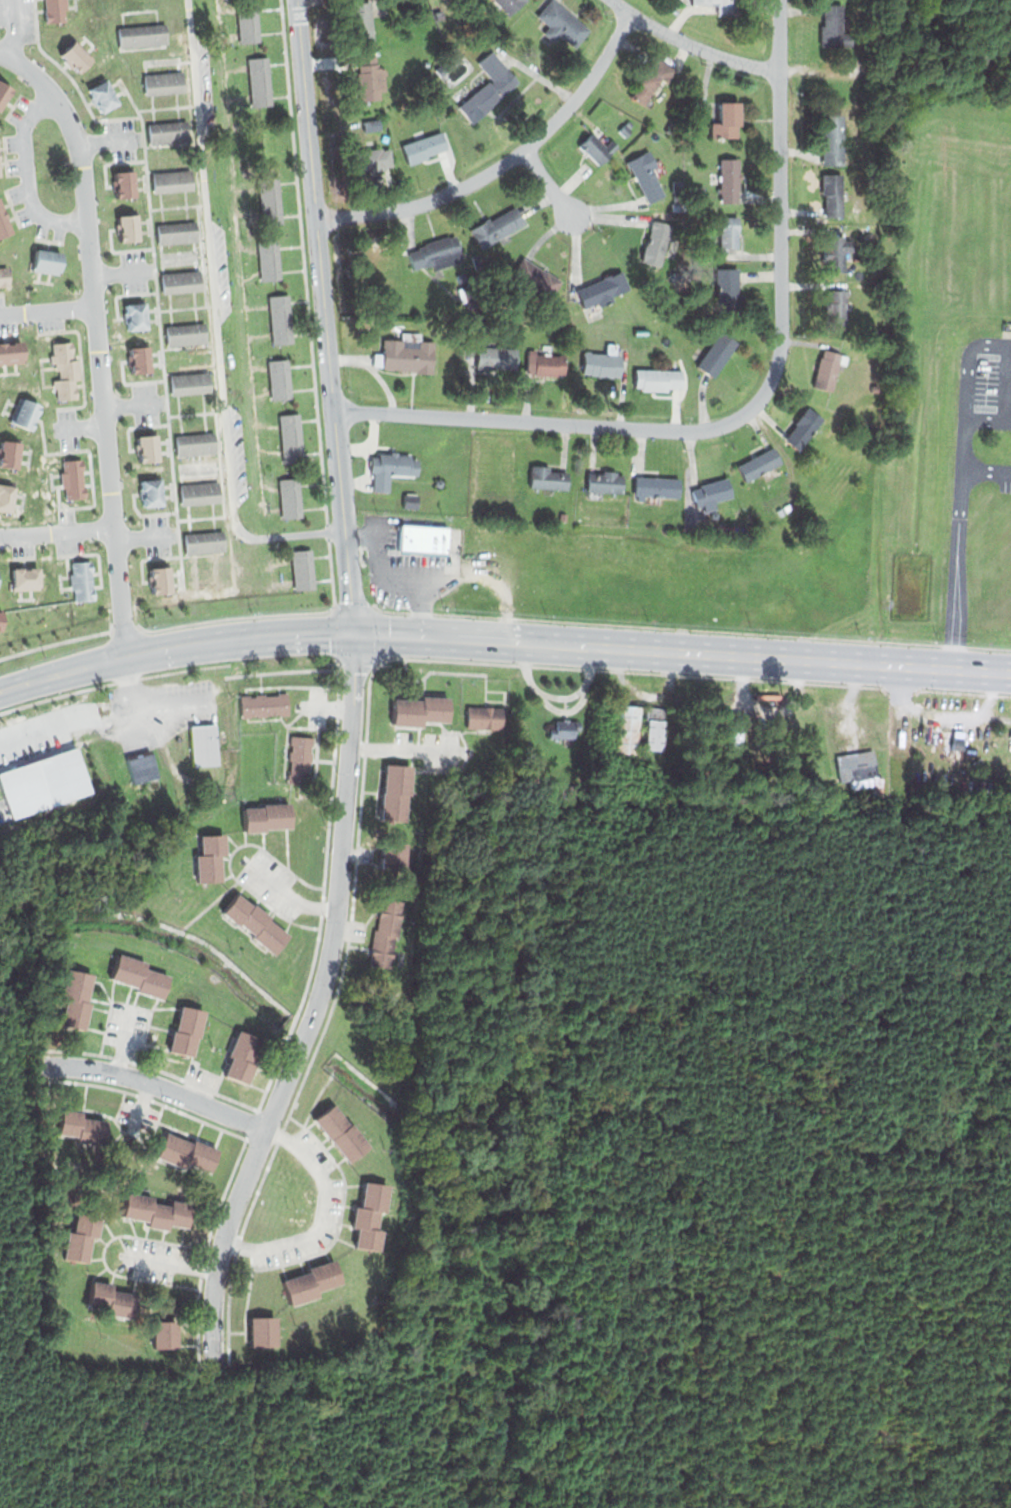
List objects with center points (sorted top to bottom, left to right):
building: (509, 5)
building: (721, 6)
building: (54, 11)
building: (247, 21)
building: (360, 22)
building: (561, 25)
building: (835, 25)
road: (15, 31)
building: (141, 34)
road: (691, 45)
building: (371, 77)
building: (650, 80)
building: (260, 82)
building: (164, 83)
building: (488, 86)
building: (4, 92)
building: (105, 95)
building: (728, 118)
building: (371, 126)
building: (627, 127)
building: (168, 132)
building: (832, 140)
building: (258, 142)
building: (424, 147)
building: (600, 148)
building: (370, 160)
road: (505, 164)
road: (28, 174)
building: (647, 176)
building: (173, 181)
building: (730, 181)
road: (549, 182)
building: (124, 184)
building: (696, 190)
building: (831, 195)
building: (270, 200)
building: (4, 223)
building: (497, 226)
building: (129, 229)
building: (178, 232)
building: (729, 234)
building: (656, 245)
building: (833, 253)
building: (435, 254)
building: (269, 260)
building: (47, 262)
building: (5, 275)
building: (461, 276)
building: (537, 278)
building: (181, 283)
building: (601, 288)
building: (730, 290)
building: (468, 294)
road: (47, 310)
building: (836, 310)
road: (325, 316)
building: (136, 317)
building: (279, 318)
road: (217, 319)
building: (186, 334)
road: (97, 337)
road: (1009, 343)
building: (11, 352)
building: (408, 353)
building: (717, 353)
building: (496, 357)
building: (140, 360)
building: (603, 361)
building: (545, 364)
building: (64, 369)
building: (827, 370)
building: (660, 378)
building: (280, 379)
building: (189, 383)
road: (748, 409)
building: (25, 414)
road: (1007, 424)
building: (804, 429)
road: (963, 430)
building: (291, 438)
building: (196, 445)
building: (149, 449)
building: (10, 452)
building: (758, 465)
building: (389, 469)
road: (986, 469)
building: (72, 478)
building: (548, 478)
building: (606, 480)
building: (440, 483)
building: (655, 486)
building: (713, 491)
building: (152, 492)
building: (200, 493)
building: (8, 496)
building: (290, 499)
building: (409, 500)
building: (562, 515)
road: (57, 534)
building: (424, 539)
building: (203, 542)
building: (303, 569)
road: (401, 569)
building: (26, 578)
building: (81, 580)
building: (393, 580)
traffic signals: (357, 632)
road: (176, 645)
road: (683, 651)
building: (264, 703)
building: (420, 710)
building: (479, 716)
building: (565, 728)
building: (627, 728)
building: (655, 730)
building: (734, 739)
building: (956, 741)
building: (203, 743)
road: (402, 749)
building: (301, 759)
building: (632, 765)
building: (860, 770)
building: (145, 771)
building: (397, 793)
building: (267, 819)
building: (394, 854)
building: (211, 858)
road: (288, 895)
building: (257, 924)
building: (387, 932)
building: (140, 978)
building: (76, 1000)
road: (315, 1002)
building: (188, 1029)
road: (129, 1044)
building: (242, 1058)
road: (158, 1086)
building: (84, 1127)
building: (341, 1132)
building: (188, 1153)
building: (156, 1210)
road: (321, 1214)
building: (371, 1215)
building: (84, 1233)
road: (175, 1263)
building: (311, 1282)
building: (114, 1301)
building: (263, 1332)
building: (167, 1335)

